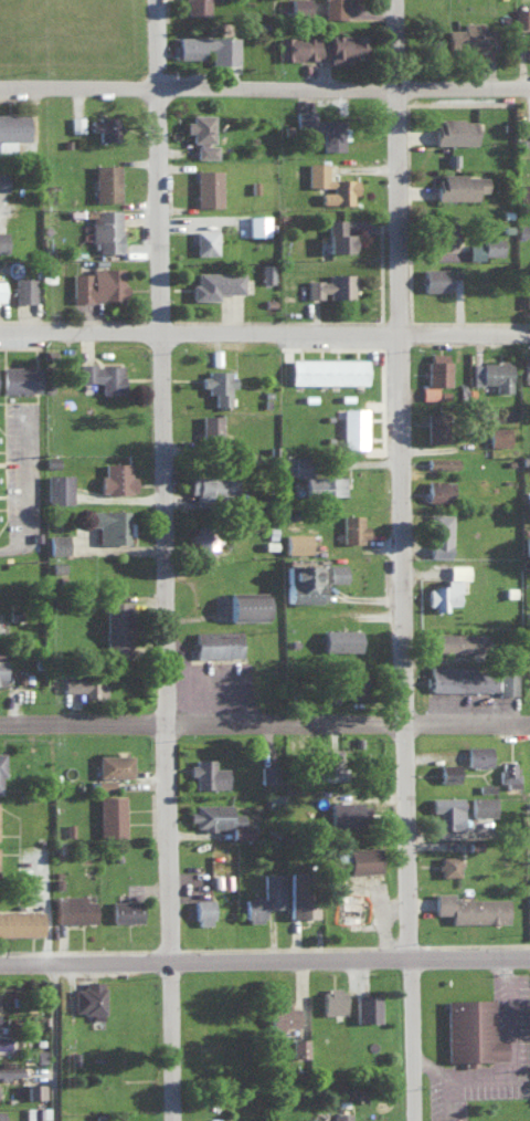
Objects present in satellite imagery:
building: (354, 0)
building: (198, 4)
building: (298, 6)
building: (332, 9)
building: (521, 15)
building: (470, 36)
building: (528, 43)
building: (320, 45)
building: (209, 46)
road: (265, 90)
building: (76, 123)
building: (104, 126)
building: (321, 127)
building: (12, 128)
building: (455, 129)
building: (201, 135)
building: (2, 178)
building: (106, 181)
building: (328, 181)
building: (208, 185)
building: (459, 185)
building: (524, 193)
road: (1, 209)
building: (257, 223)
building: (106, 230)
building: (336, 234)
building: (443, 234)
building: (2, 240)
building: (204, 240)
building: (485, 247)
building: (266, 271)
building: (434, 277)
building: (98, 283)
building: (214, 283)
building: (330, 284)
building: (23, 287)
building: (1, 289)
building: (527, 292)
road: (264, 334)
building: (437, 367)
building: (526, 369)
building: (329, 370)
building: (495, 373)
building: (102, 375)
building: (19, 377)
building: (218, 385)
building: (428, 391)
building: (210, 423)
building: (435, 426)
building: (352, 427)
building: (498, 434)
building: (442, 461)
building: (314, 476)
building: (116, 478)
building: (213, 486)
building: (59, 488)
road: (25, 489)
building: (438, 490)
building: (108, 523)
building: (351, 527)
building: (438, 533)
building: (203, 538)
building: (297, 541)
building: (57, 543)
building: (527, 544)
road: (174, 559)
road: (406, 560)
building: (57, 567)
building: (336, 572)
building: (300, 582)
building: (444, 595)
building: (245, 606)
building: (116, 627)
building: (340, 639)
building: (459, 641)
building: (216, 642)
building: (1, 670)
building: (462, 677)
building: (507, 682)
building: (348, 683)
building: (85, 685)
road: (265, 727)
building: (476, 753)
building: (114, 764)
building: (1, 771)
building: (447, 771)
building: (206, 773)
building: (267, 773)
building: (507, 773)
building: (104, 783)
building: (486, 785)
building: (480, 805)
building: (447, 809)
building: (346, 813)
building: (110, 815)
building: (215, 815)
building: (447, 865)
building: (301, 895)
building: (265, 897)
building: (73, 905)
building: (349, 905)
building: (469, 908)
building: (125, 909)
building: (203, 909)
building: (21, 923)
road: (265, 964)
building: (89, 996)
building: (332, 999)
building: (365, 1006)
building: (283, 1016)
building: (470, 1030)
road: (64, 1045)
building: (299, 1046)
building: (10, 1069)
building: (35, 1089)
building: (0, 1117)
building: (341, 1117)
building: (455, 1120)

